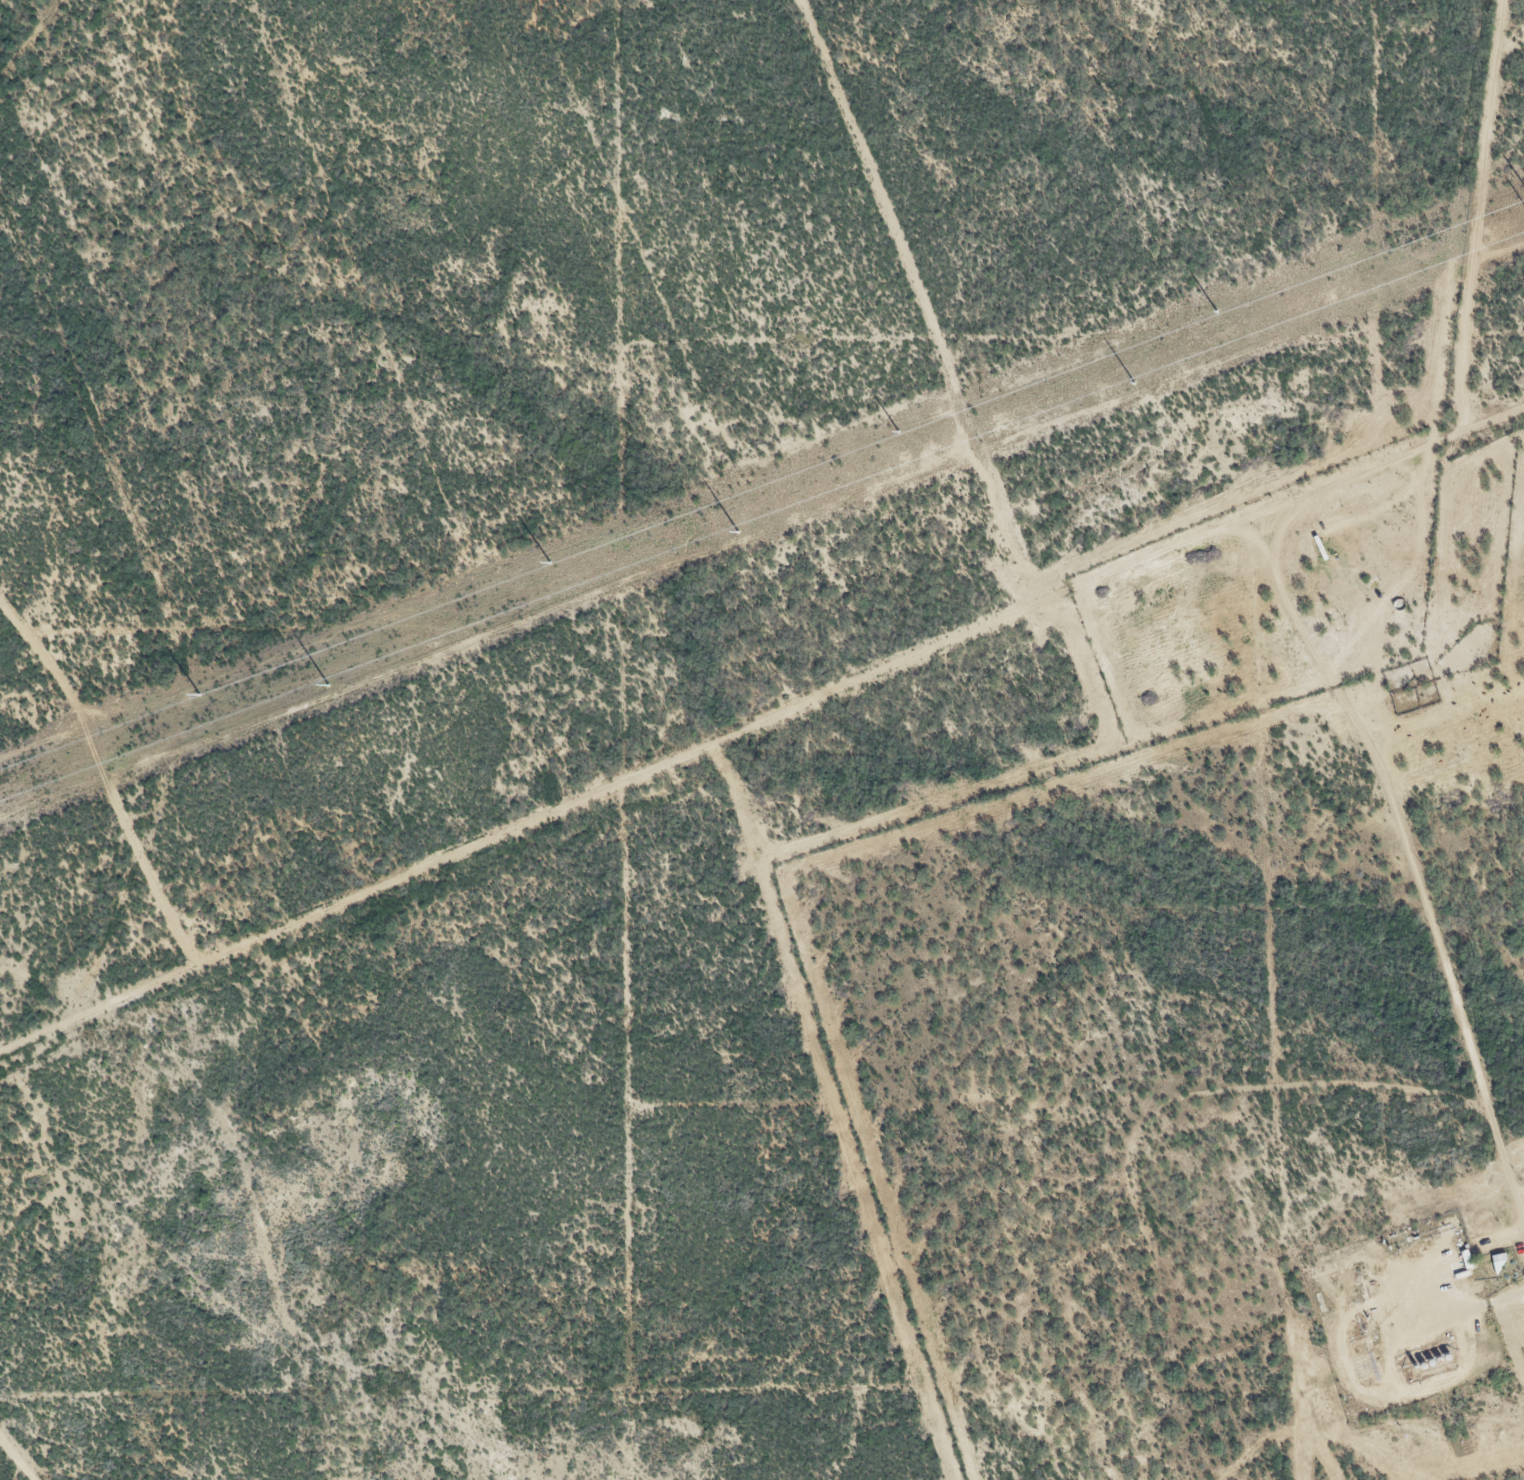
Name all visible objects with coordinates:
power tower: (1217, 311)
power tower: (1134, 384)
power tower: (899, 432)
power tower: (739, 533)
power tower: (550, 564)
power tower: (328, 687)
power tower: (200, 696)
building: (1459, 1262)

